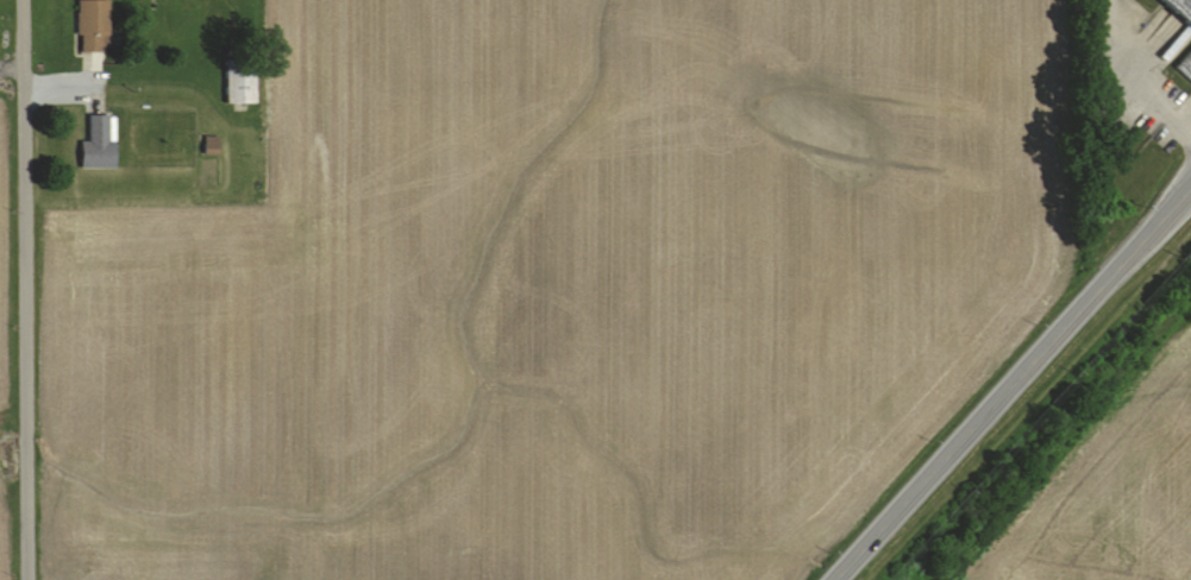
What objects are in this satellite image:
building: (1181, 7)
building: (94, 25)
building: (1185, 67)
building: (244, 81)
road: (10, 89)
road: (23, 290)
road: (1011, 383)

